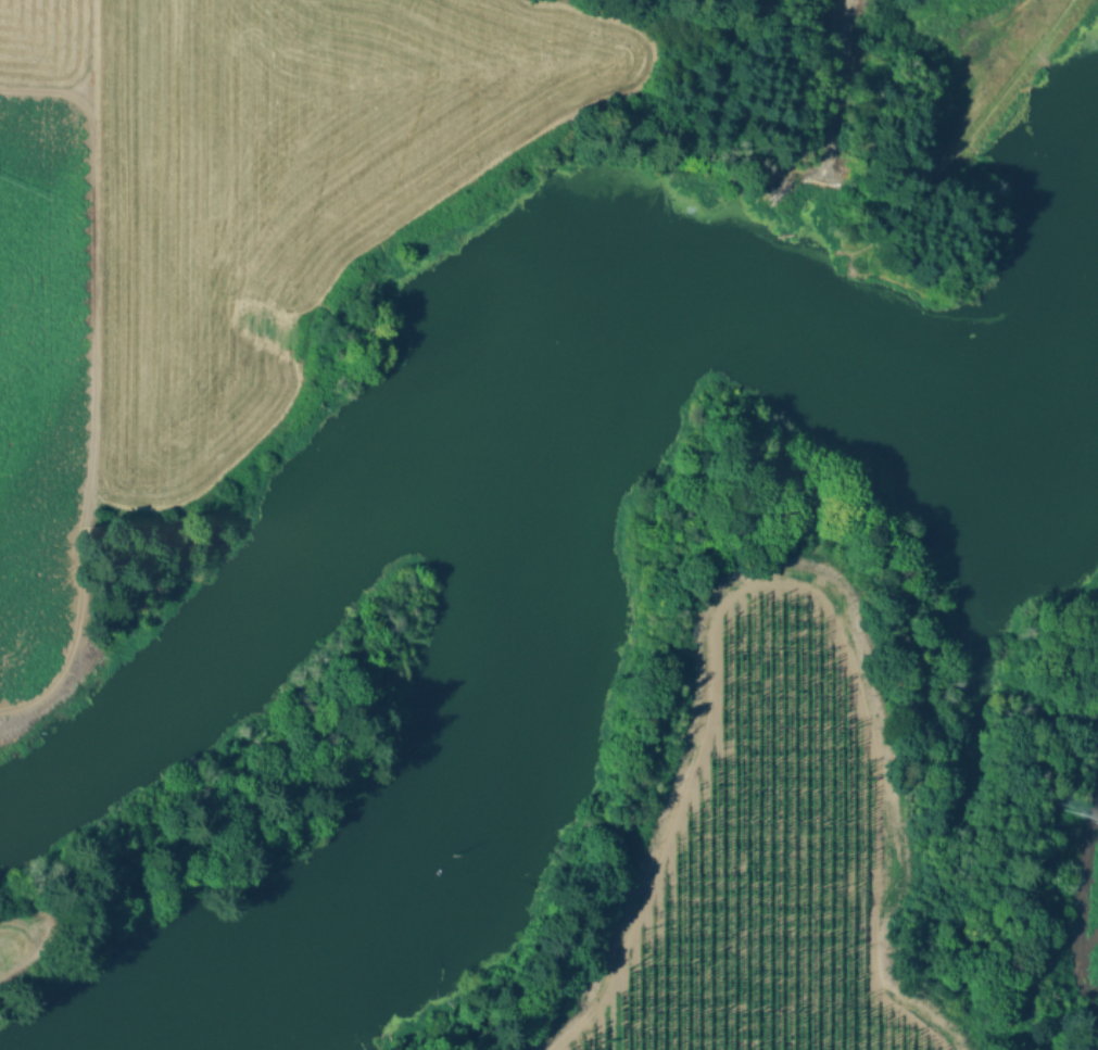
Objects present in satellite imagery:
crop: (216, 225)
dam: (833, 239)
crop: (761, 859)
crop: (4, 951)

